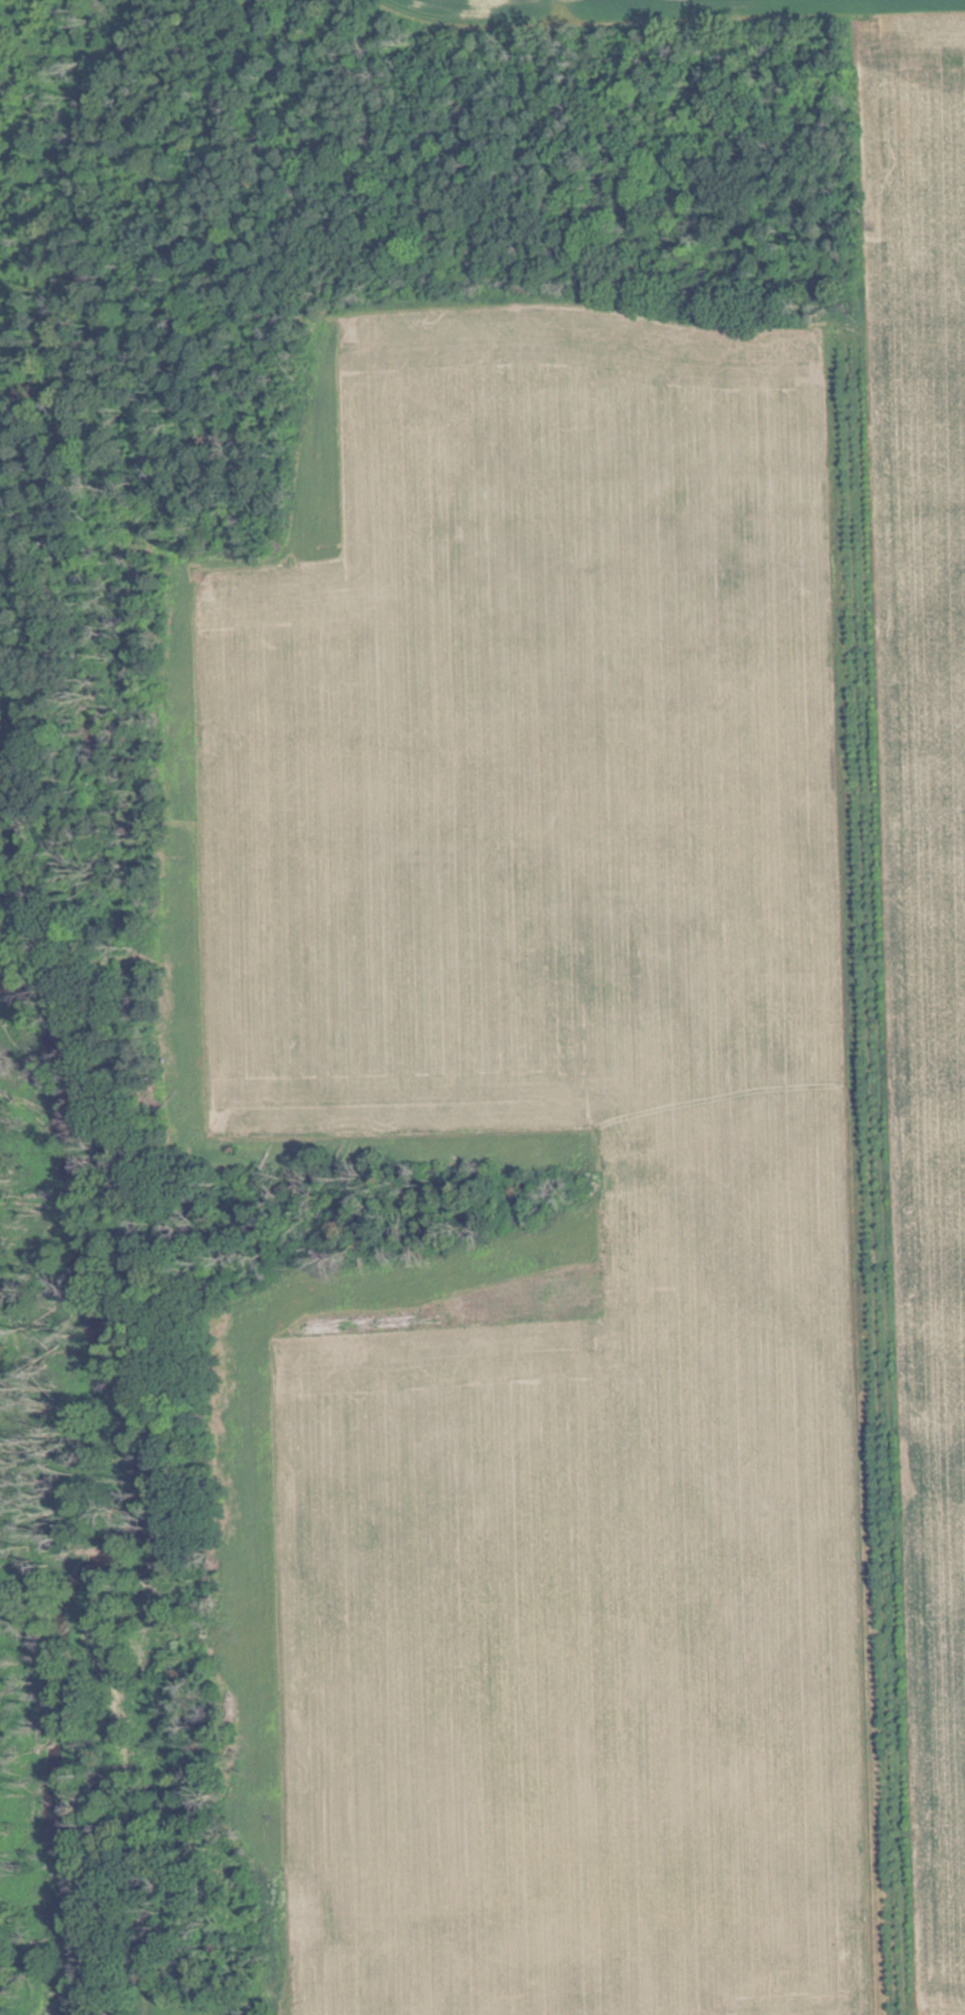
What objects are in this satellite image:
river: (132, 1485)

